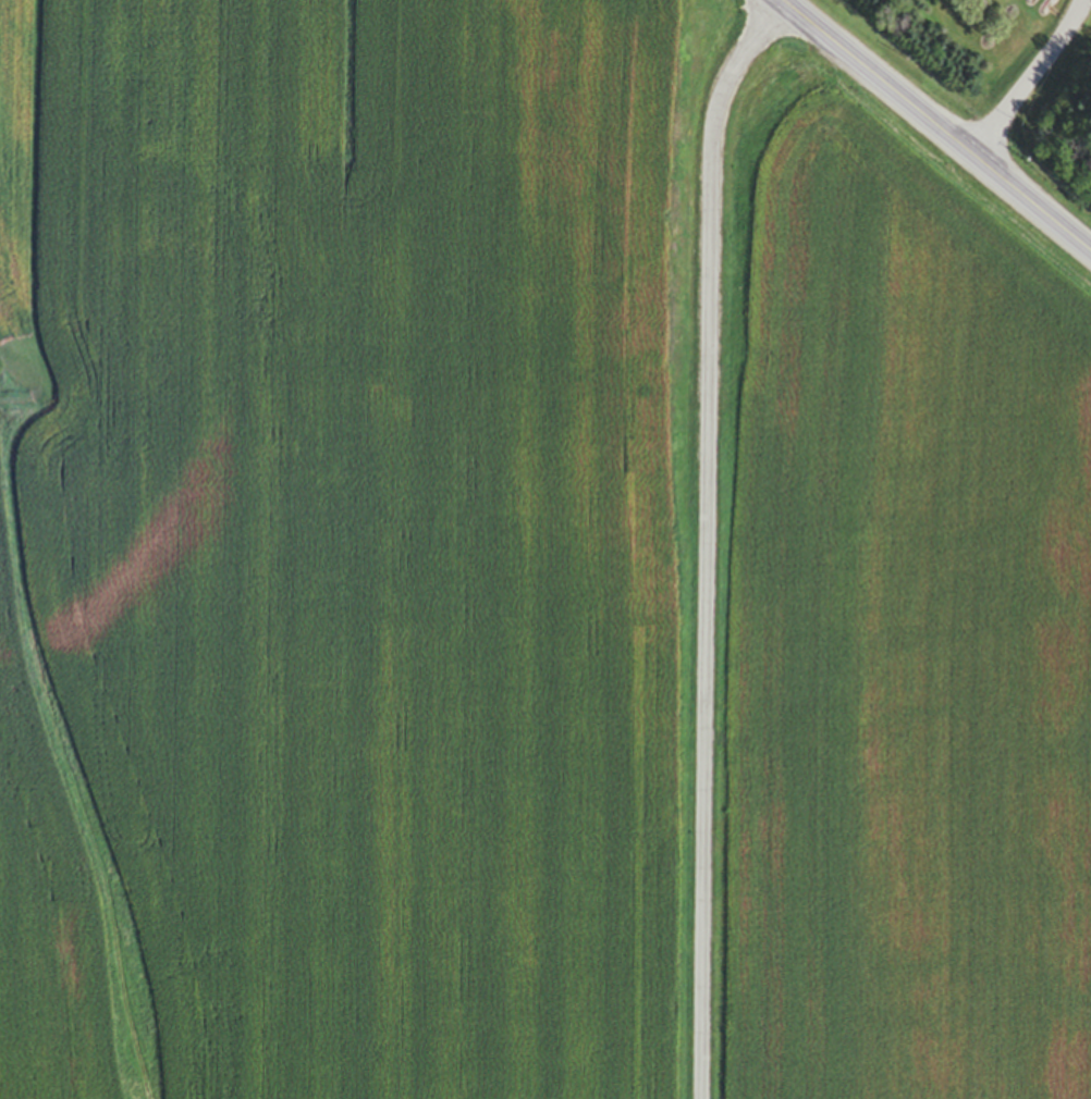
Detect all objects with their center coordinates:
road: (1027, 77)
road: (935, 126)
road: (704, 541)

